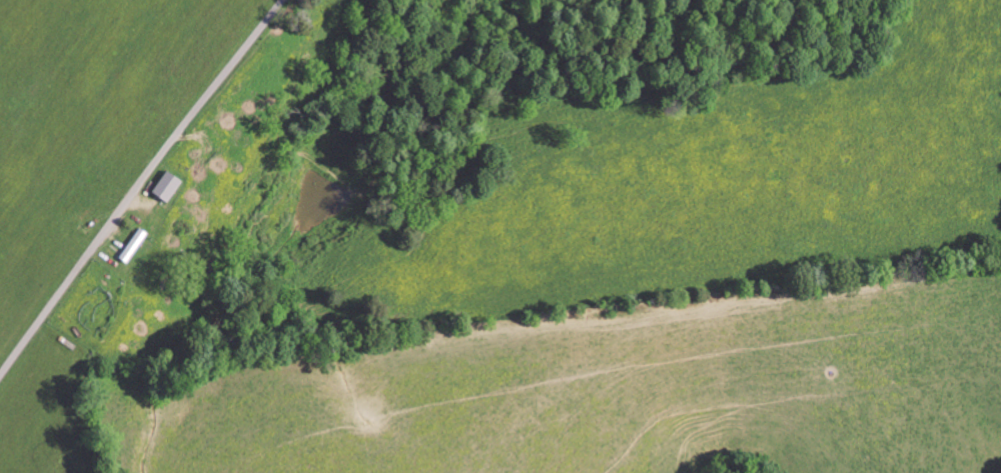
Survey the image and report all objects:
road: (138, 185)
building: (169, 185)

